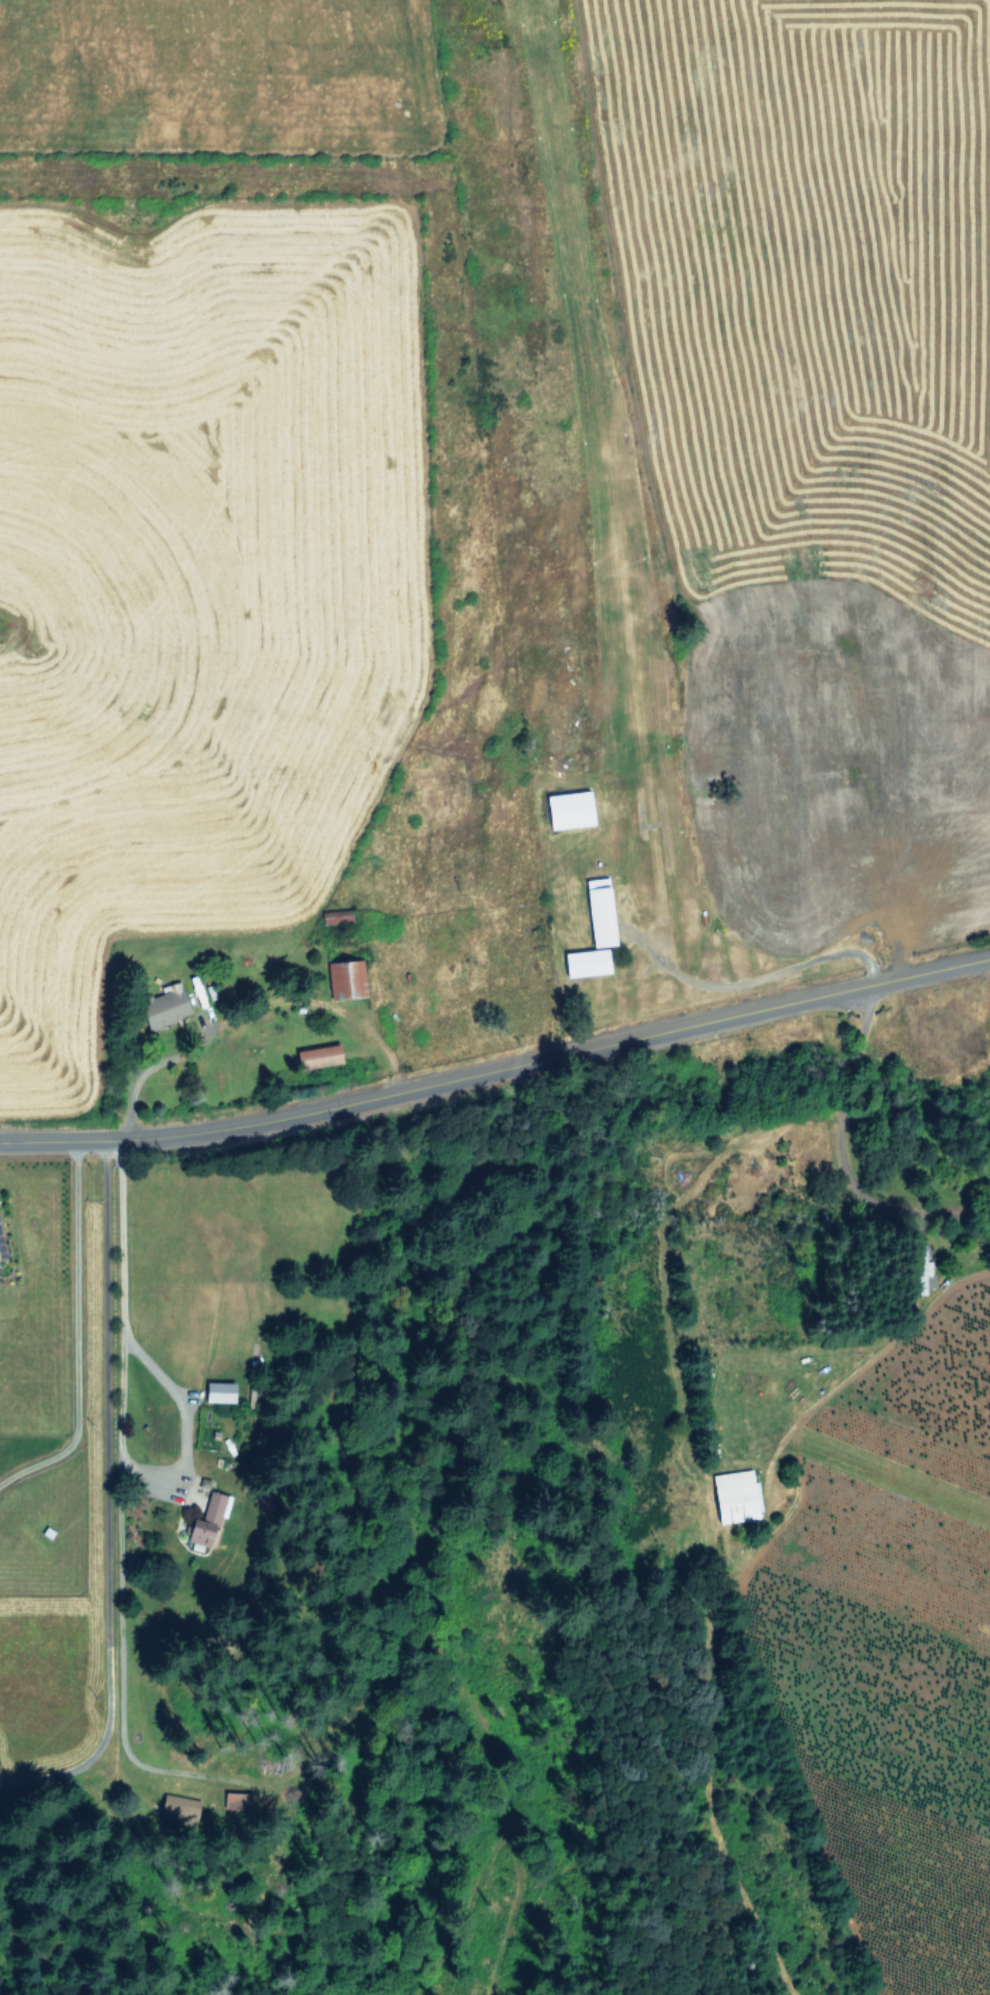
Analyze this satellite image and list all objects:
airport runway: (592, 407)
crop: (484, 517)
building: (565, 809)
building: (595, 911)
building: (334, 915)
building: (583, 961)
road: (775, 970)
building: (343, 976)
building: (163, 1007)
building: (315, 1055)
road: (497, 1073)
road: (838, 1163)
building: (1, 1250)
building: (919, 1272)
road: (76, 1336)
building: (217, 1391)
road: (119, 1408)
building: (732, 1496)
road: (106, 1504)
building: (204, 1519)
building: (235, 1799)
building: (175, 1808)

